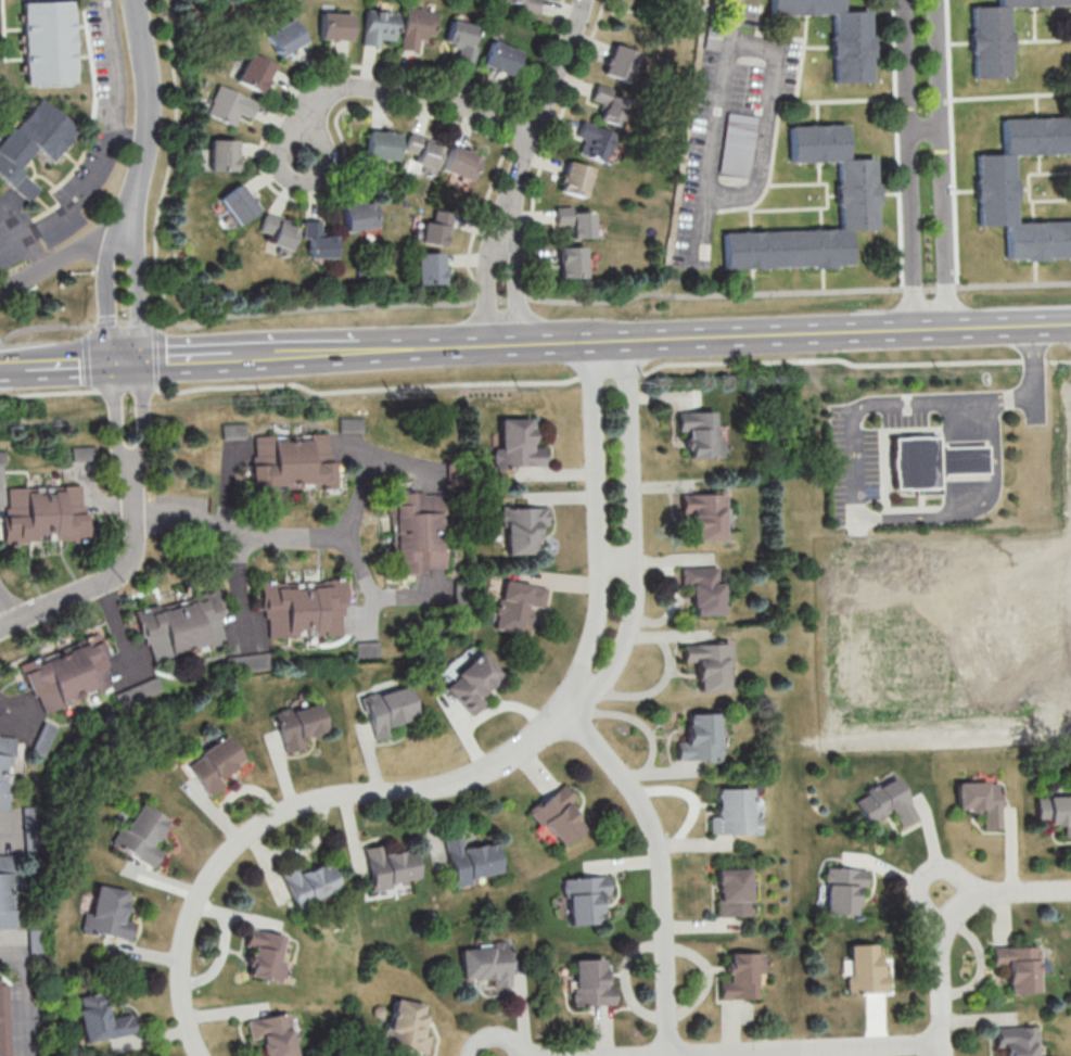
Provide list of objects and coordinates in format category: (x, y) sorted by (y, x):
building: (524, 4)
road: (731, 21)
building: (339, 27)
building: (382, 28)
building: (419, 28)
building: (832, 36)
building: (993, 37)
building: (289, 38)
building: (466, 40)
building: (52, 44)
building: (505, 59)
building: (624, 65)
building: (257, 74)
road: (396, 91)
building: (231, 106)
building: (613, 106)
road: (148, 119)
road: (535, 122)
road: (923, 128)
road: (130, 139)
building: (597, 143)
building: (34, 145)
building: (384, 147)
building: (425, 152)
road: (110, 153)
building: (226, 157)
building: (735, 163)
road: (942, 163)
building: (463, 164)
road: (905, 164)
building: (578, 180)
building: (990, 189)
road: (747, 194)
building: (852, 198)
building: (242, 205)
building: (361, 217)
building: (578, 222)
building: (438, 228)
building: (281, 233)
building: (321, 242)
road: (498, 247)
road: (36, 251)
road: (62, 257)
building: (574, 264)
building: (432, 269)
road: (140, 296)
road: (107, 297)
road: (532, 300)
road: (729, 335)
road: (313, 354)
road: (190, 359)
traffic signals: (143, 361)
road: (126, 362)
traffic signals: (110, 364)
road: (56, 365)
road: (1, 367)
road: (535, 382)
road: (928, 403)
road: (145, 419)
road: (115, 420)
building: (702, 433)
building: (520, 444)
building: (82, 454)
building: (285, 459)
building: (934, 460)
road: (967, 510)
building: (47, 513)
building: (704, 516)
building: (526, 530)
building: (417, 532)
road: (303, 536)
road: (617, 561)
road: (105, 577)
road: (366, 583)
road: (239, 588)
building: (704, 590)
road: (8, 605)
building: (519, 606)
building: (305, 610)
road: (115, 626)
building: (184, 626)
building: (711, 665)
building: (71, 674)
building: (475, 683)
road: (574, 697)
building: (391, 710)
building: (302, 725)
building: (702, 738)
building: (217, 763)
building: (7, 769)
building: (982, 800)
building: (889, 802)
road: (293, 807)
building: (1056, 811)
building: (738, 812)
building: (562, 817)
road: (7, 830)
building: (144, 832)
building: (473, 858)
road: (658, 865)
building: (393, 866)
building: (313, 883)
building: (844, 890)
road: (1054, 890)
building: (8, 891)
building: (736, 892)
building: (587, 900)
building: (111, 914)
road: (944, 939)
building: (268, 954)
building: (488, 964)
building: (1020, 966)
building: (867, 968)
building: (743, 976)
building: (592, 983)
road: (23, 993)
building: (104, 1018)
building: (4, 1019)
building: (408, 1026)
building: (275, 1034)
building: (1019, 1040)
road: (792, 1051)

